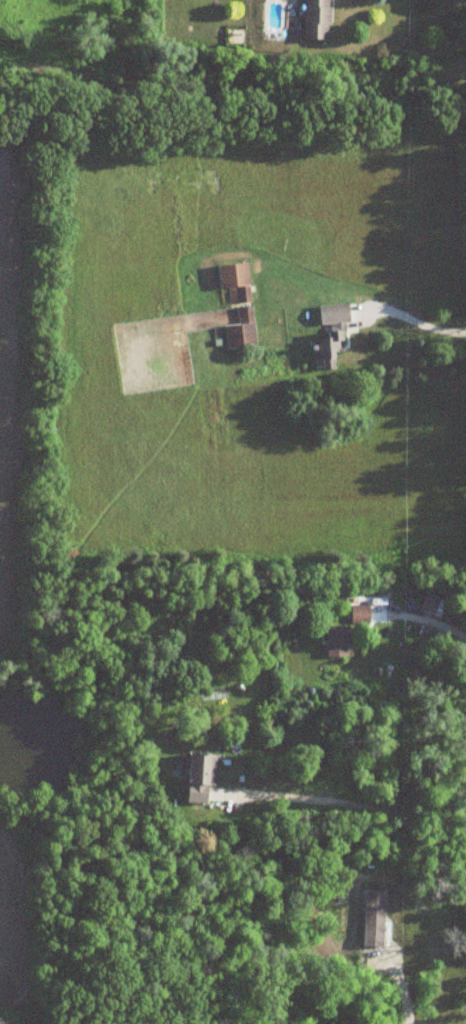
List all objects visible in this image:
building: (318, 19)
building: (239, 304)
road: (415, 318)
building: (331, 336)
building: (361, 613)
road: (426, 617)
building: (338, 642)
building: (202, 776)
road: (351, 801)
road: (398, 984)

